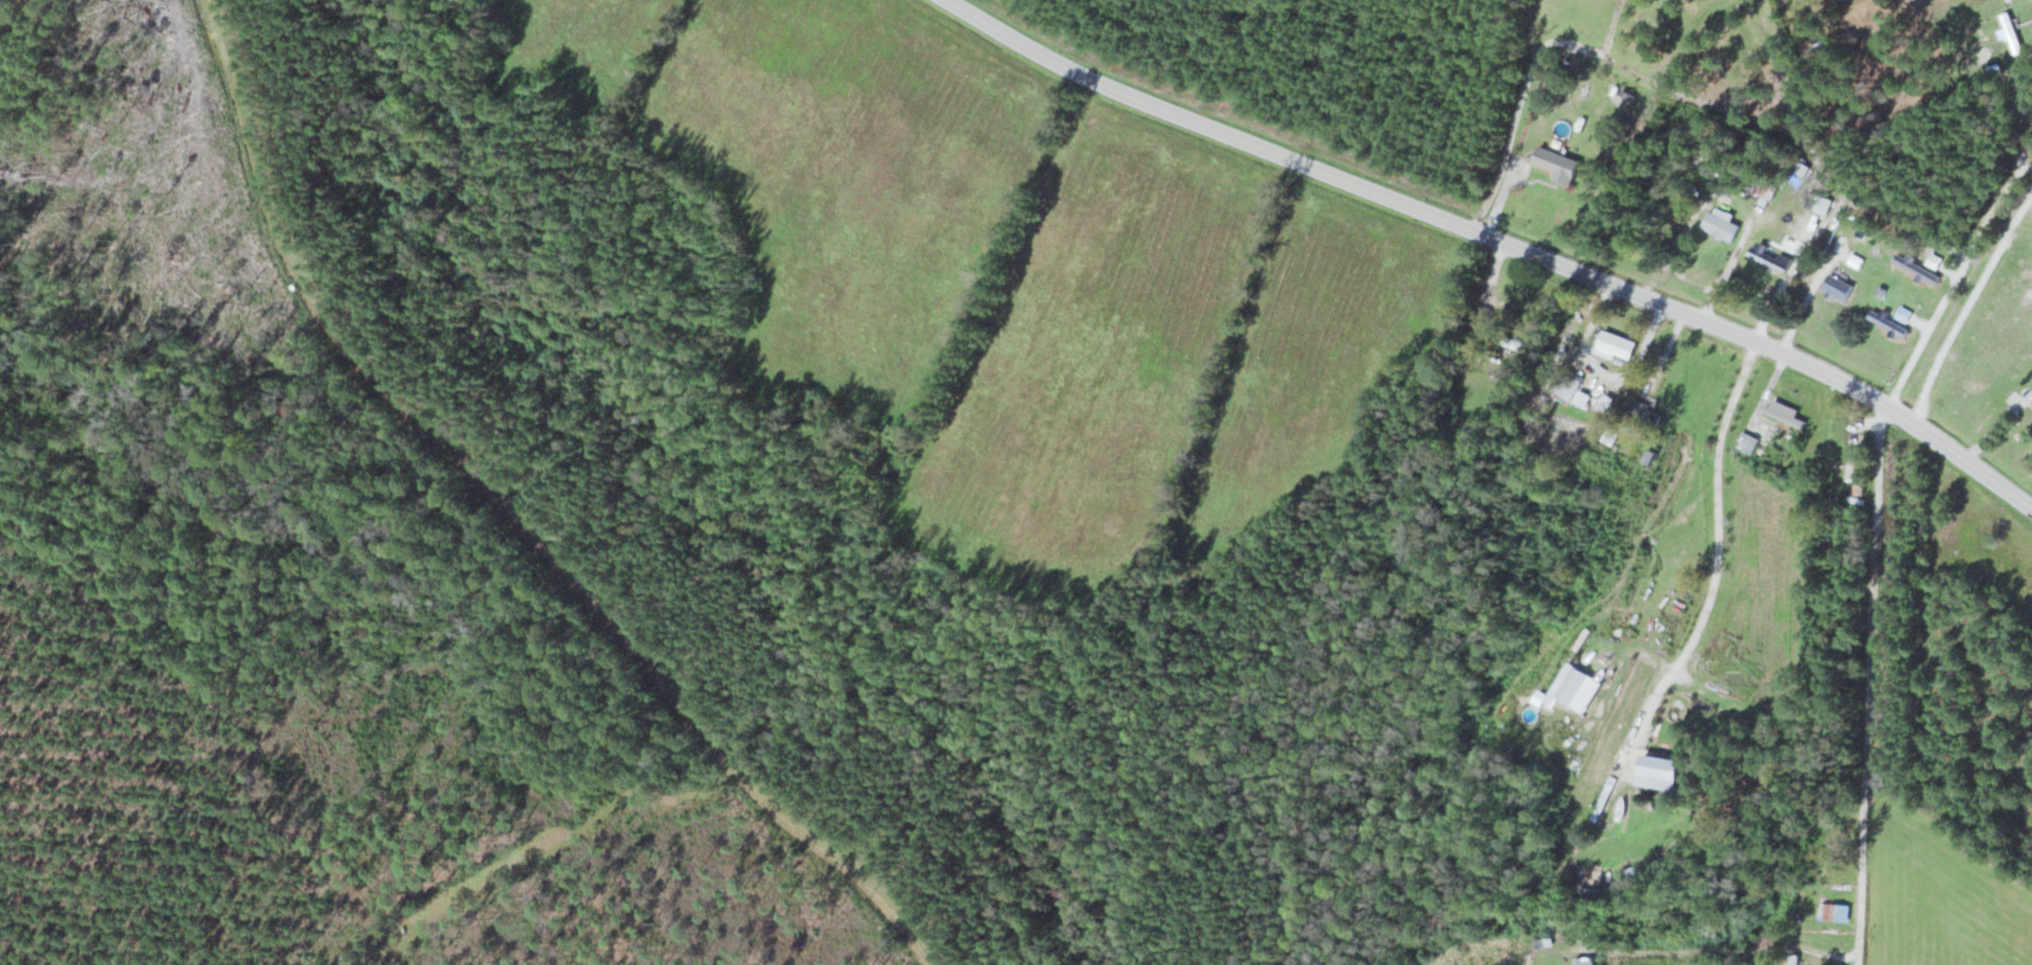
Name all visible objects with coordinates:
building: (2007, 1)
road: (1612, 26)
building: (2011, 32)
road: (1645, 41)
road: (1674, 91)
building: (1626, 93)
road: (1206, 125)
building: (1556, 162)
road: (2024, 165)
crop: (822, 168)
road: (1531, 180)
road: (2008, 183)
building: (1765, 190)
road: (1729, 193)
road: (1500, 197)
building: (1816, 203)
building: (1720, 223)
building: (1847, 256)
building: (1770, 258)
road: (1795, 260)
building: (1933, 260)
building: (1915, 268)
road: (1950, 271)
road: (1687, 279)
building: (1836, 284)
building: (1879, 290)
road: (1807, 297)
road: (1967, 306)
road: (1482, 309)
building: (1903, 314)
building: (1887, 323)
road: (1920, 323)
road: (1926, 334)
building: (1616, 343)
road: (1763, 345)
road: (1978, 349)
crop: (1157, 353)
building: (1568, 384)
building: (1785, 412)
building: (1747, 442)
building: (1852, 462)
crop: (1628, 465)
road: (520, 512)
road: (1717, 545)
road: (1632, 646)
building: (1571, 684)
road: (1869, 684)
building: (1658, 771)
building: (1833, 910)
road: (1705, 949)
building: (1792, 959)
crop: (1651, 960)
building: (1584, 961)

